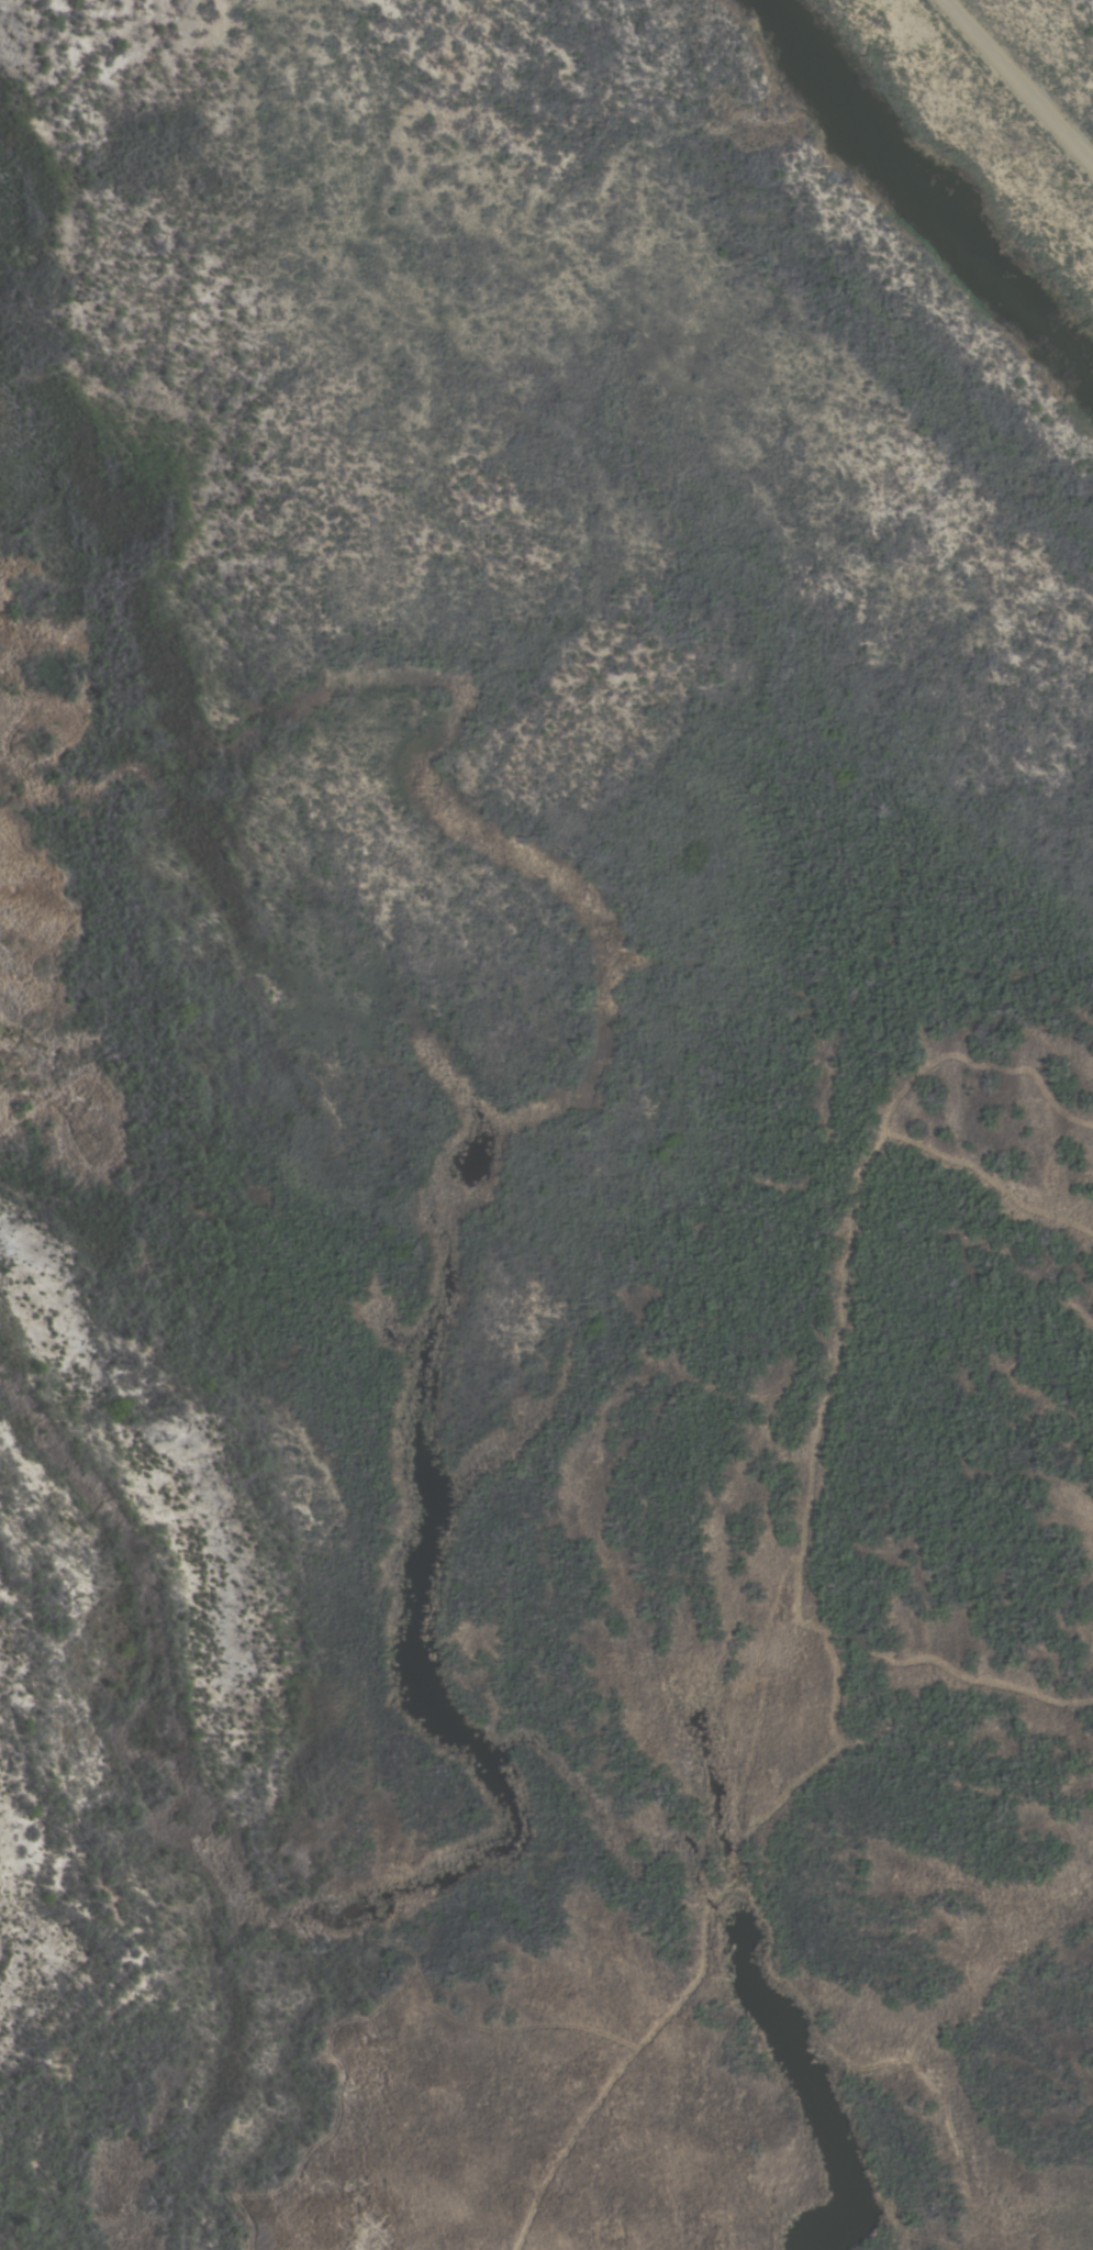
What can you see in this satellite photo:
road: (1019, 80)

